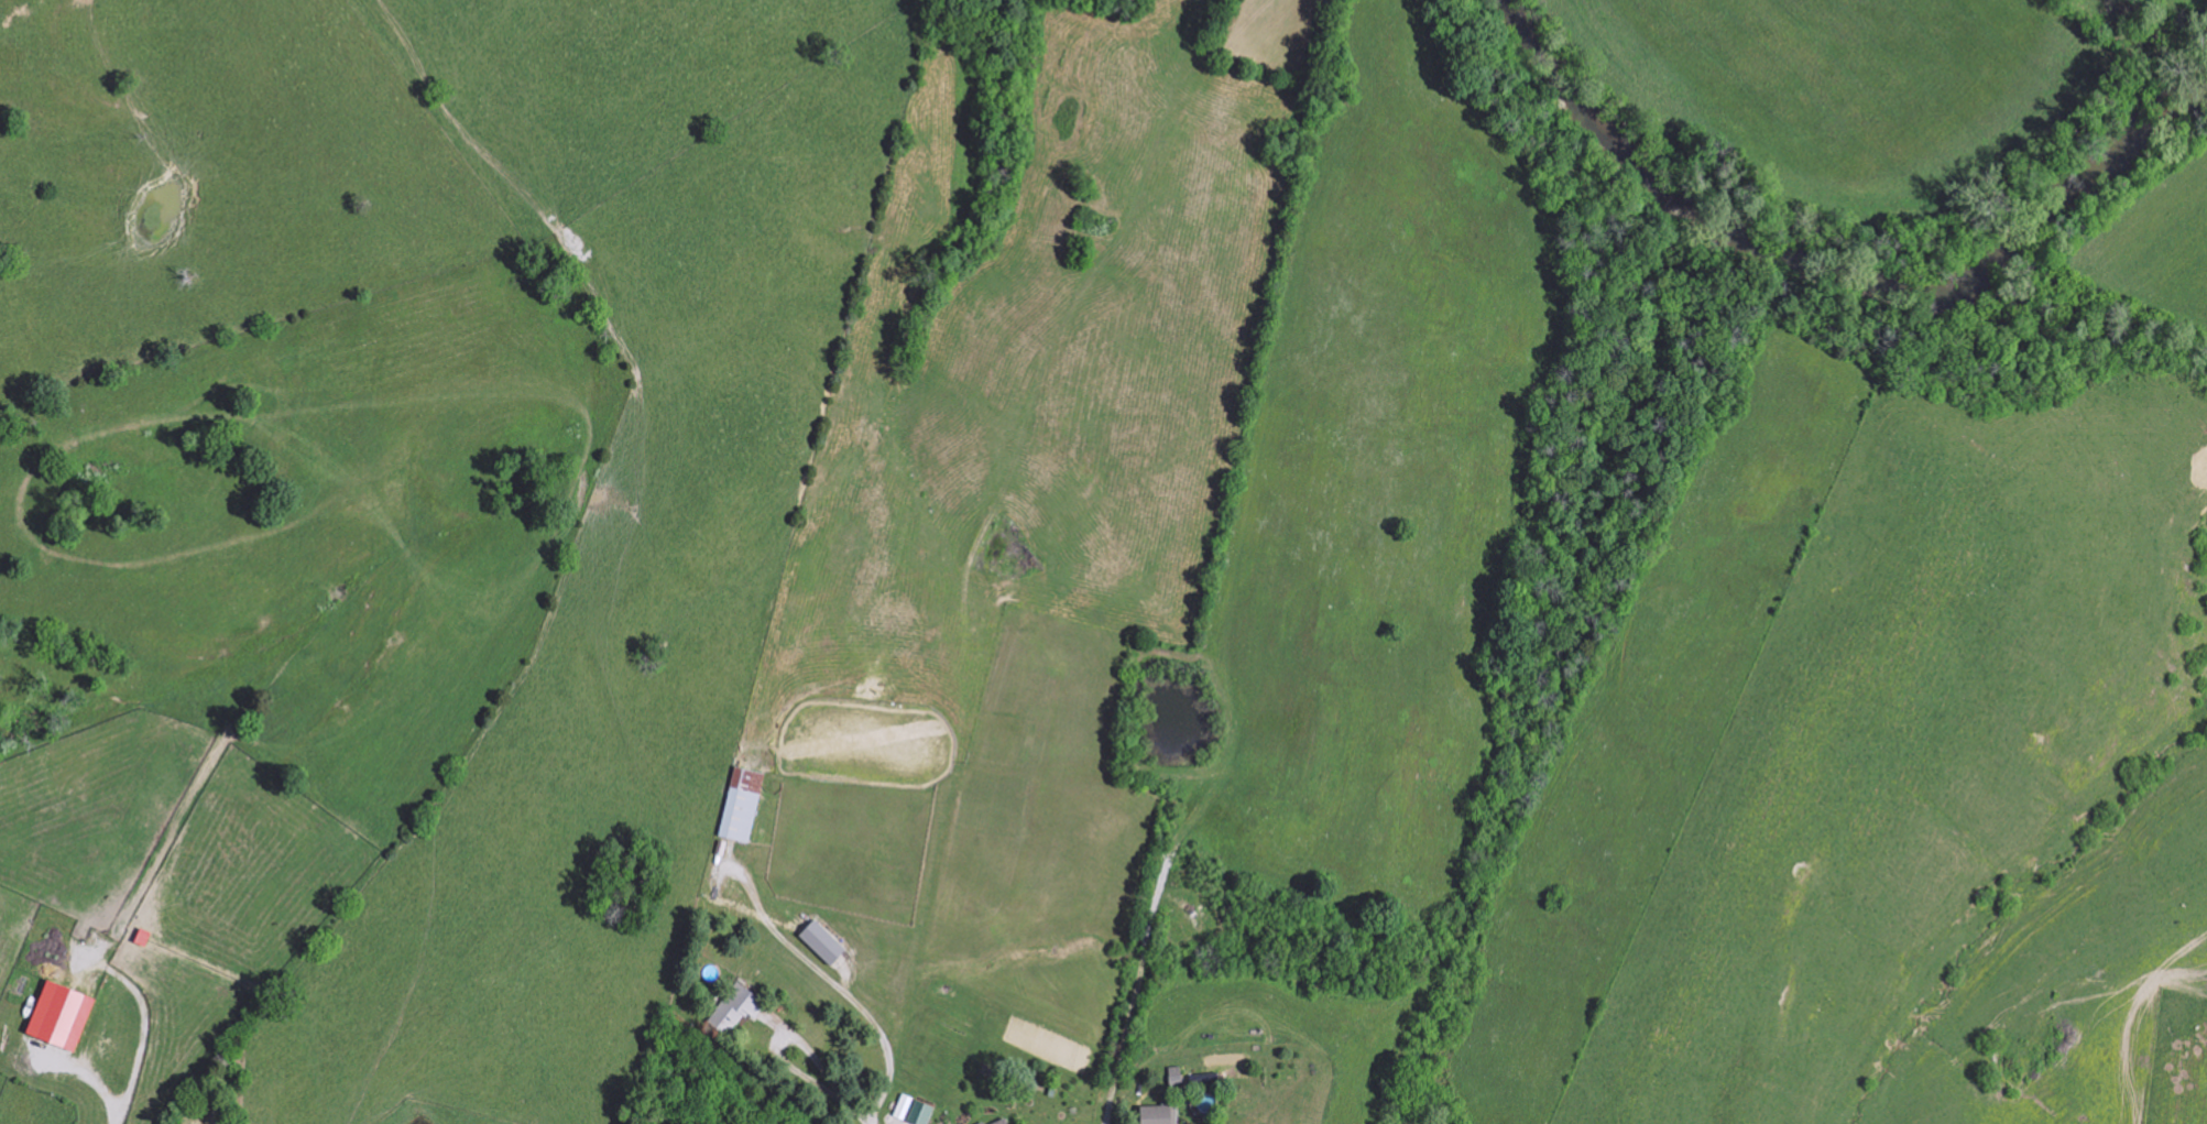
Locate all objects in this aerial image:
road: (534, 593)
building: (743, 806)
road: (699, 810)
park: (631, 874)
road: (754, 945)
building: (735, 1008)
building: (61, 1016)
building: (1159, 1114)
road: (1148, 1120)
building: (1001, 1121)

